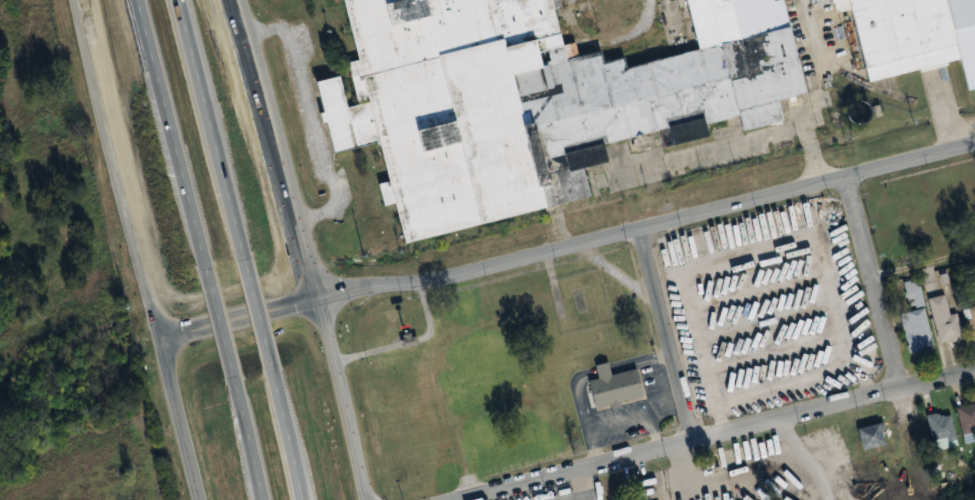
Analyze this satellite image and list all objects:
building: (915, 35)
road: (812, 91)
building: (529, 105)
road: (944, 115)
road: (211, 125)
road: (172, 133)
road: (568, 246)
road: (306, 248)
road: (135, 250)
road: (923, 262)
road: (873, 279)
building: (915, 295)
road: (263, 316)
building: (946, 321)
building: (972, 323)
road: (225, 328)
building: (918, 331)
road: (667, 335)
building: (412, 340)
building: (613, 386)
building: (967, 419)
building: (942, 429)
road: (720, 434)
building: (874, 437)
road: (291, 440)
road: (251, 444)
road: (806, 457)
road: (579, 486)

